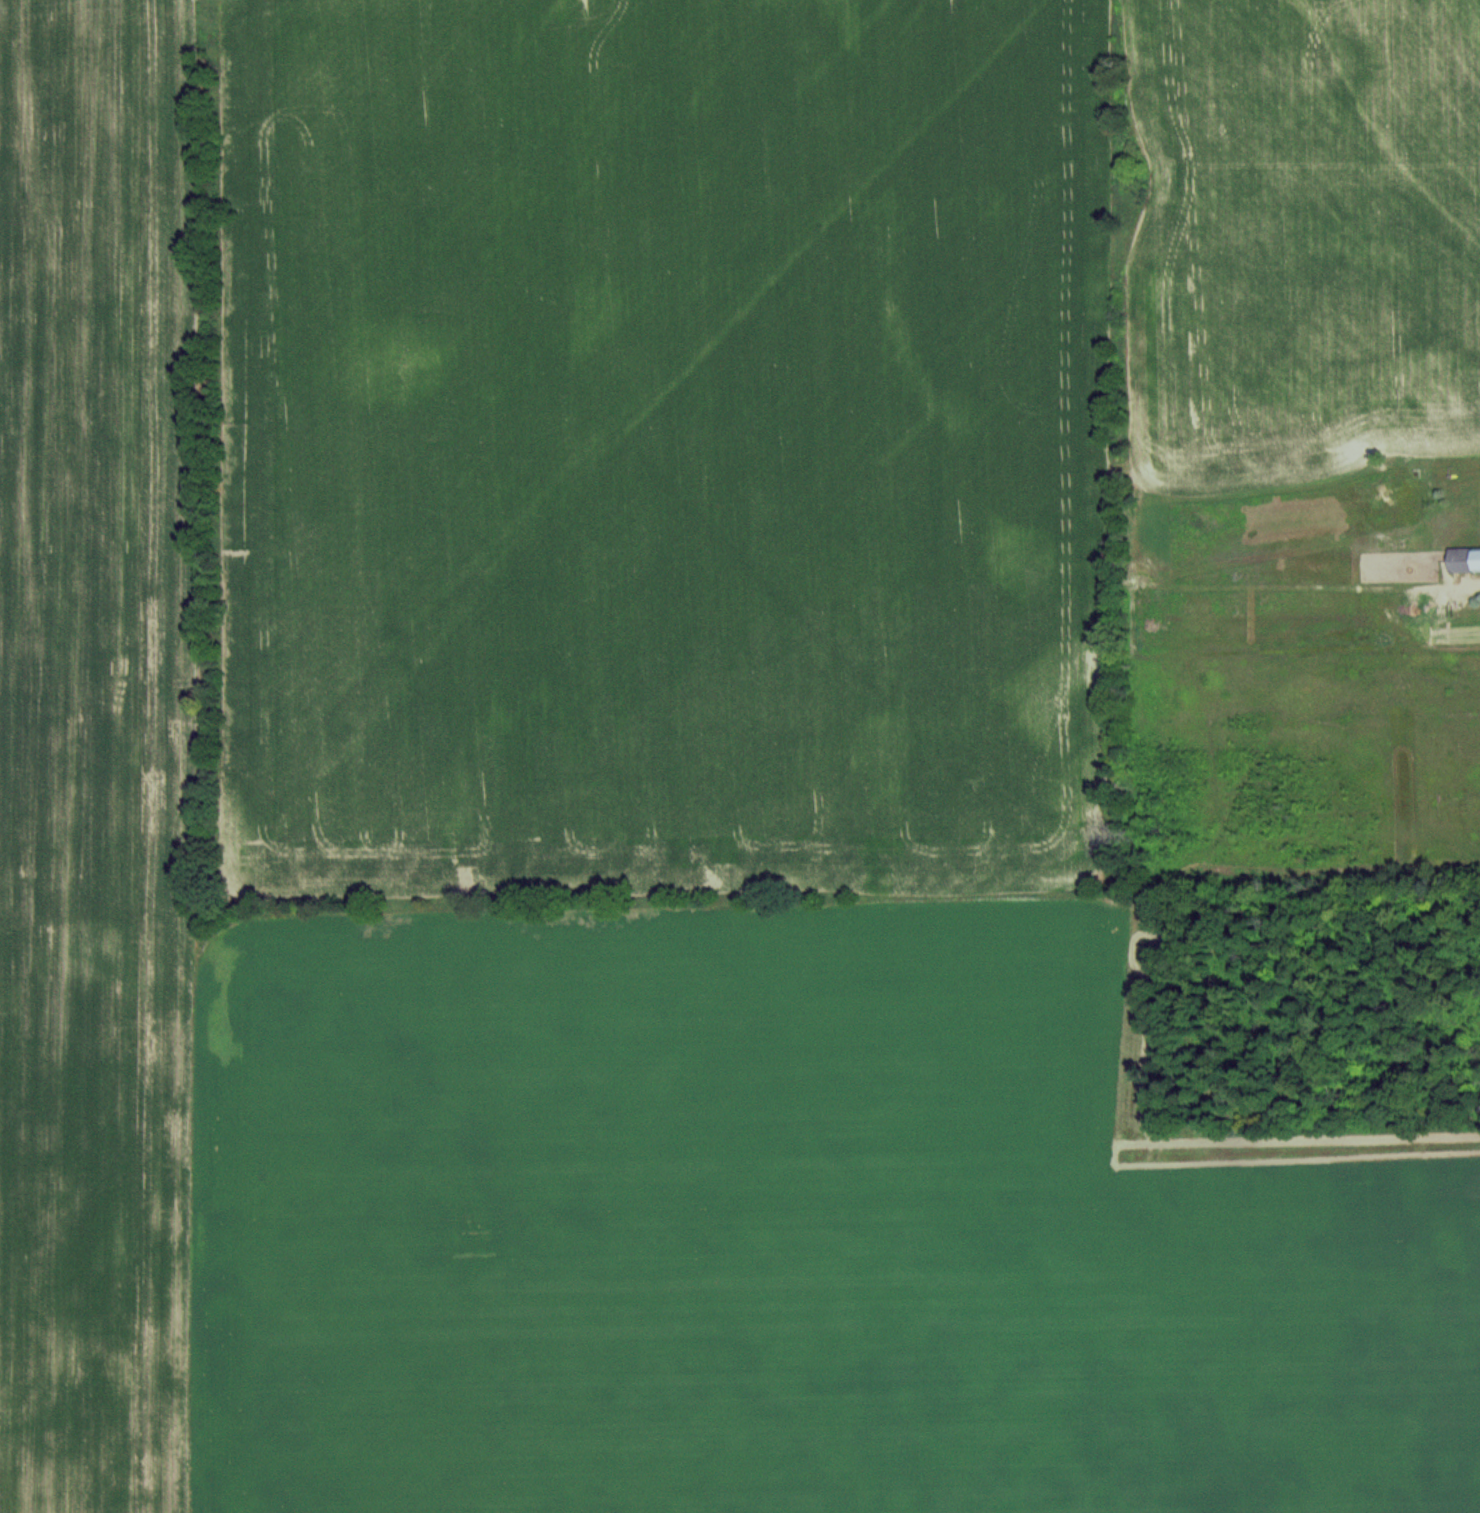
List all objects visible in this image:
building: (1464, 559)

